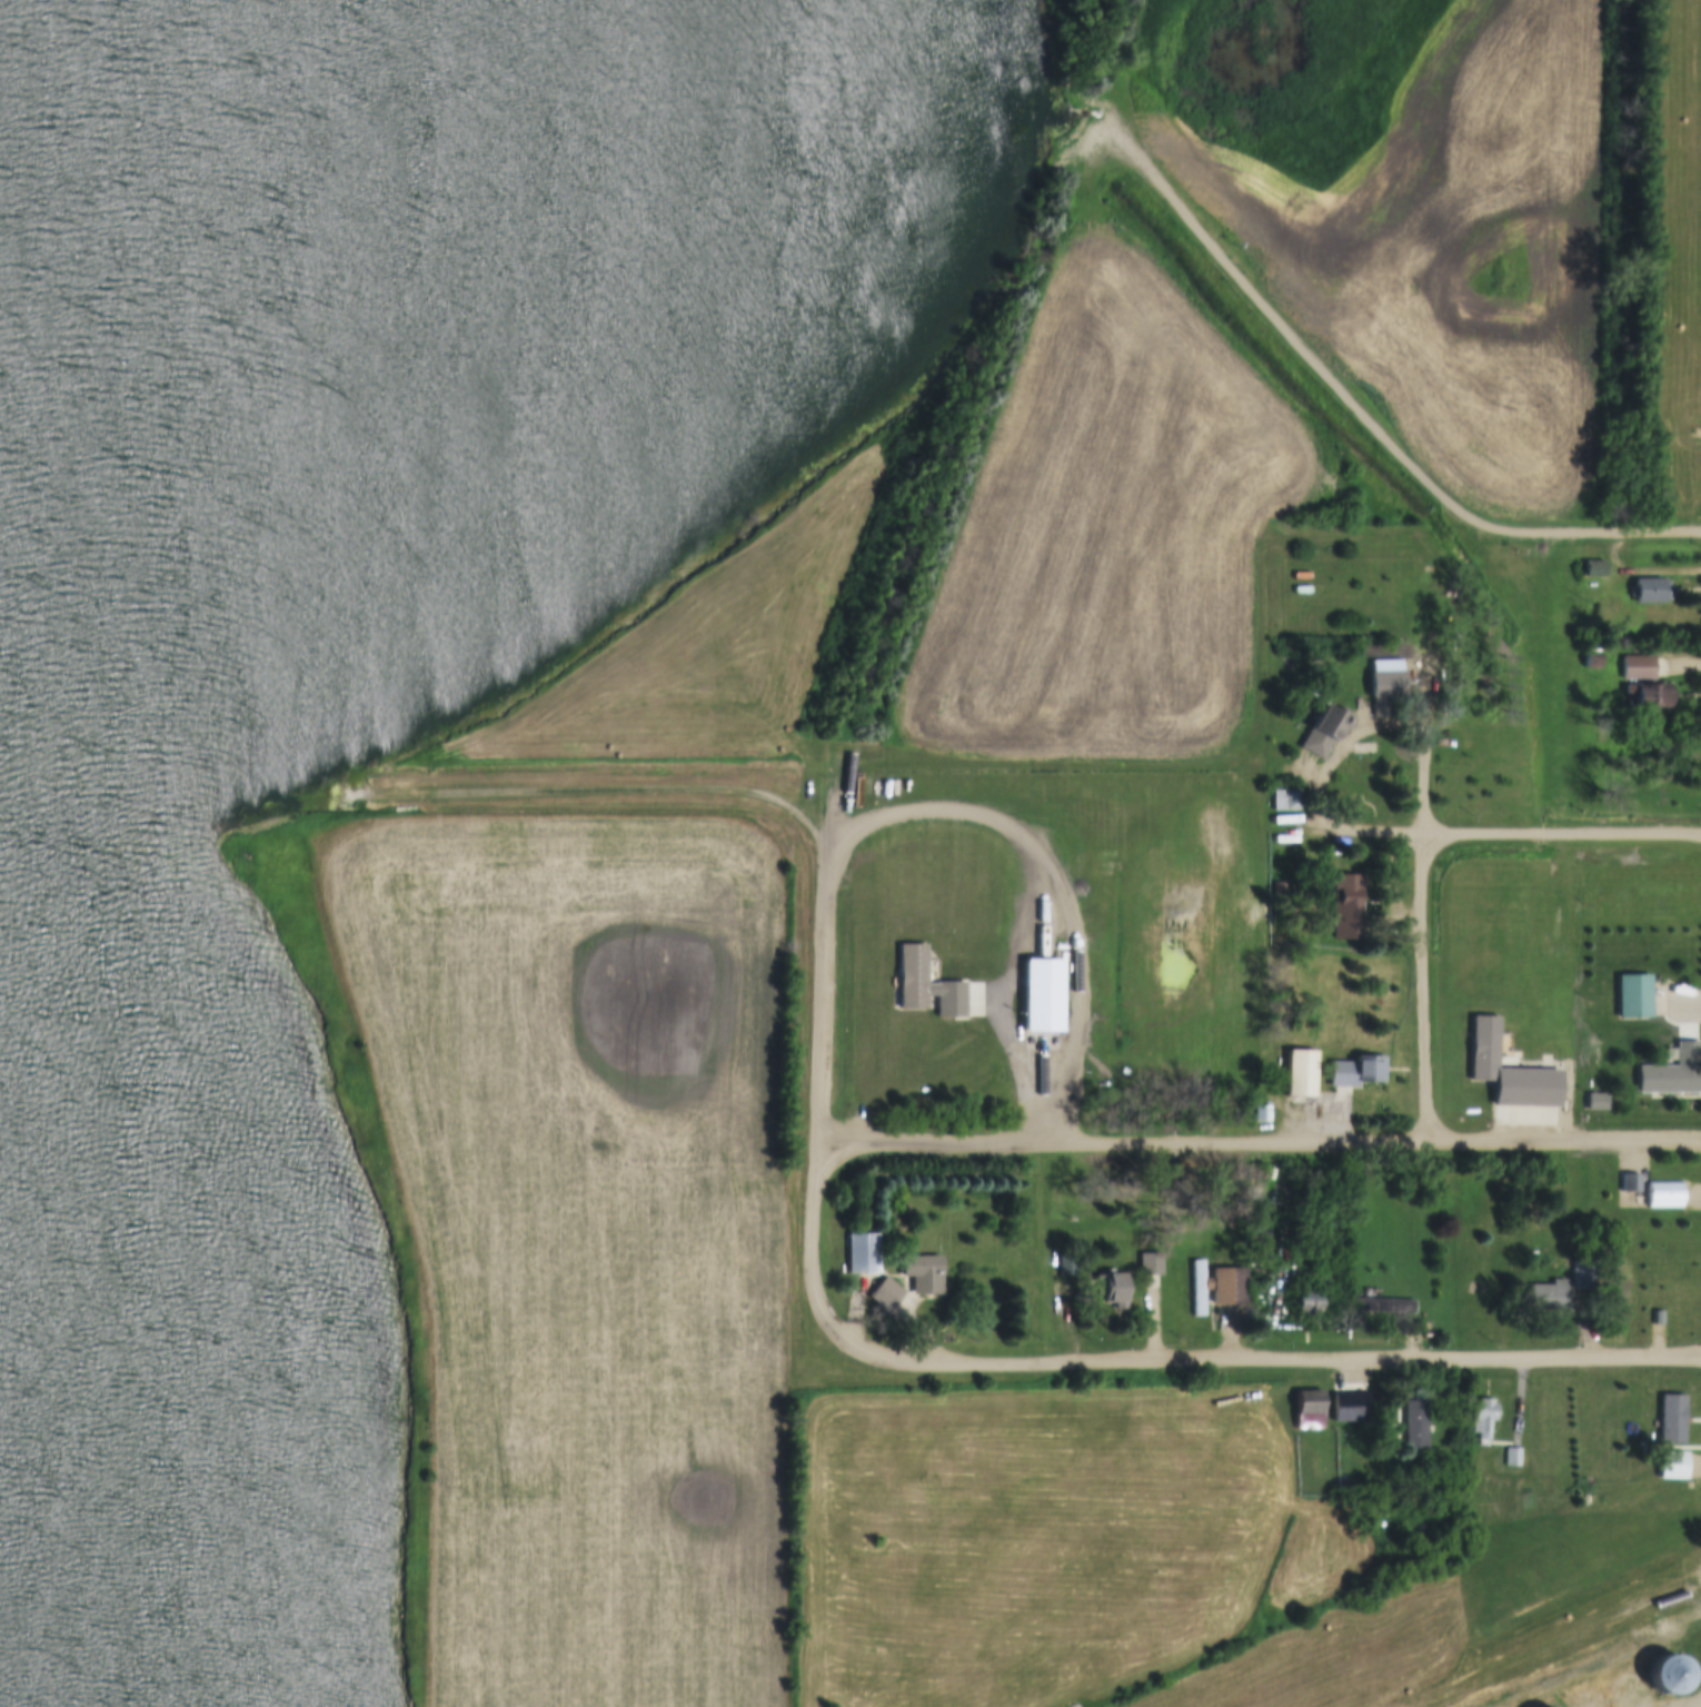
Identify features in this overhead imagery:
road: (1363, 419)
crop: (1111, 535)
building: (1593, 568)
building: (1649, 592)
building: (1590, 663)
building: (1635, 667)
building: (1649, 697)
building: (1380, 706)
building: (1323, 732)
road: (750, 792)
building: (1285, 801)
road: (1560, 833)
building: (1345, 906)
building: (828, 926)
building: (911, 976)
road: (1420, 988)
building: (1039, 996)
building: (1631, 996)
building: (1355, 1072)
building: (1299, 1074)
building: (1668, 1080)
road: (1037, 1083)
building: (1596, 1103)
building: (1262, 1114)
road: (1257, 1143)
building: (1630, 1184)
building: (1663, 1195)
crop: (585, 1240)
building: (862, 1254)
building: (1066, 1264)
building: (1150, 1266)
building: (922, 1274)
building: (1226, 1287)
building: (1197, 1289)
building: (888, 1291)
building: (1113, 1291)
building: (1546, 1299)
building: (1305, 1303)
road: (1165, 1358)
building: (1309, 1411)
building: (1482, 1419)
building: (1671, 1420)
building: (1414, 1423)
building: (1512, 1458)
building: (1343, 1487)
building: (1665, 1676)
silo: (1665, 1676)
road: (1697, 1704)

